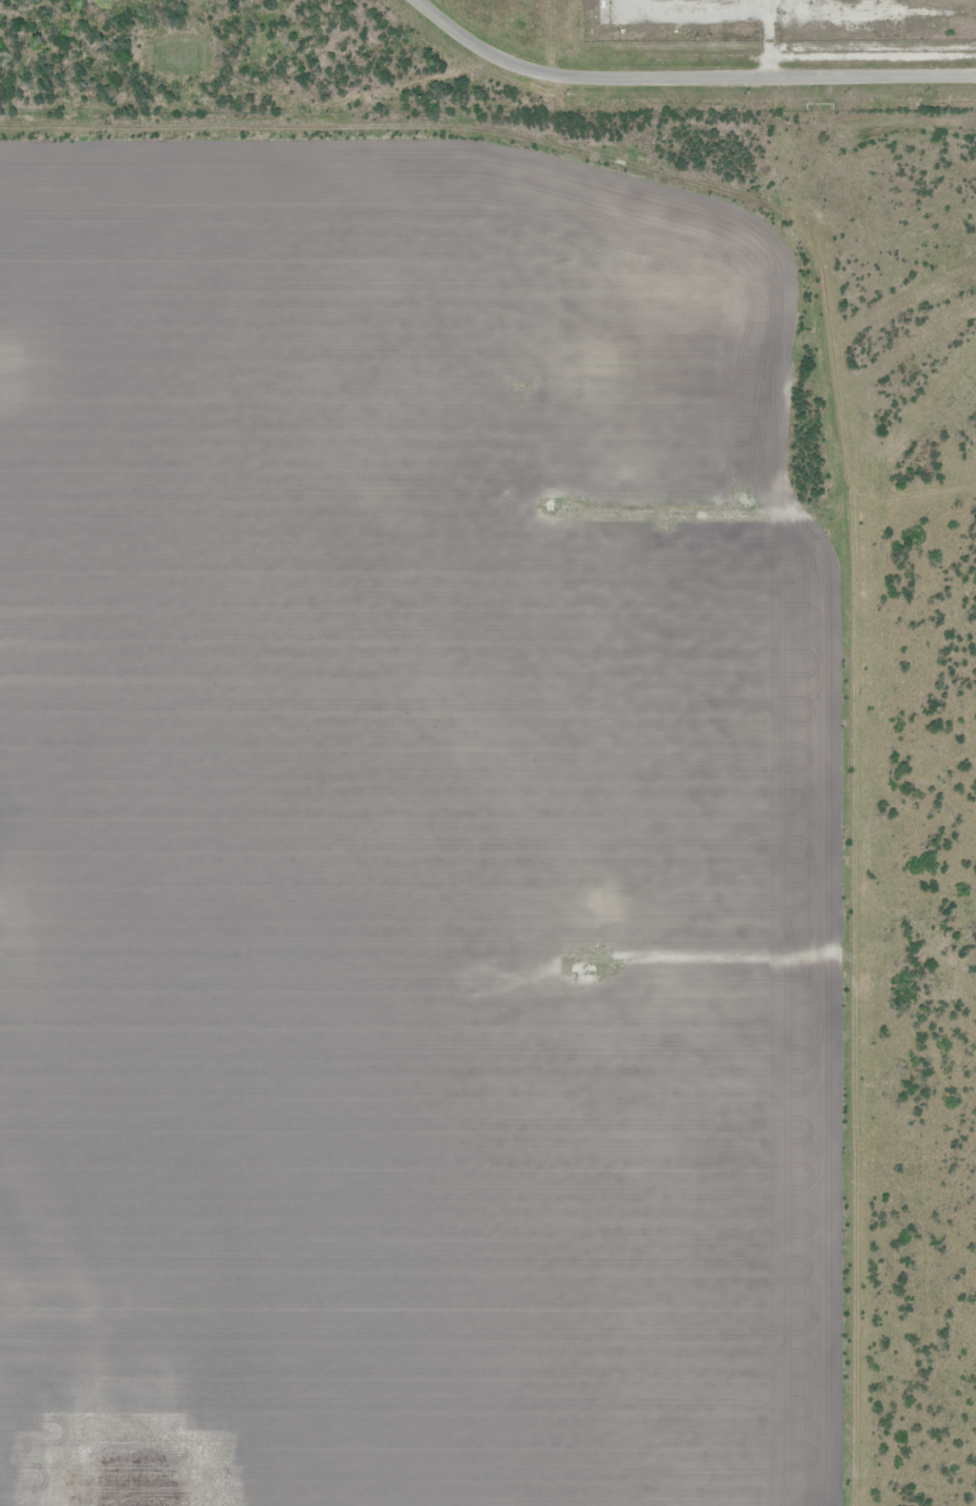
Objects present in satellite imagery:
road: (686, 70)
road: (806, 465)

